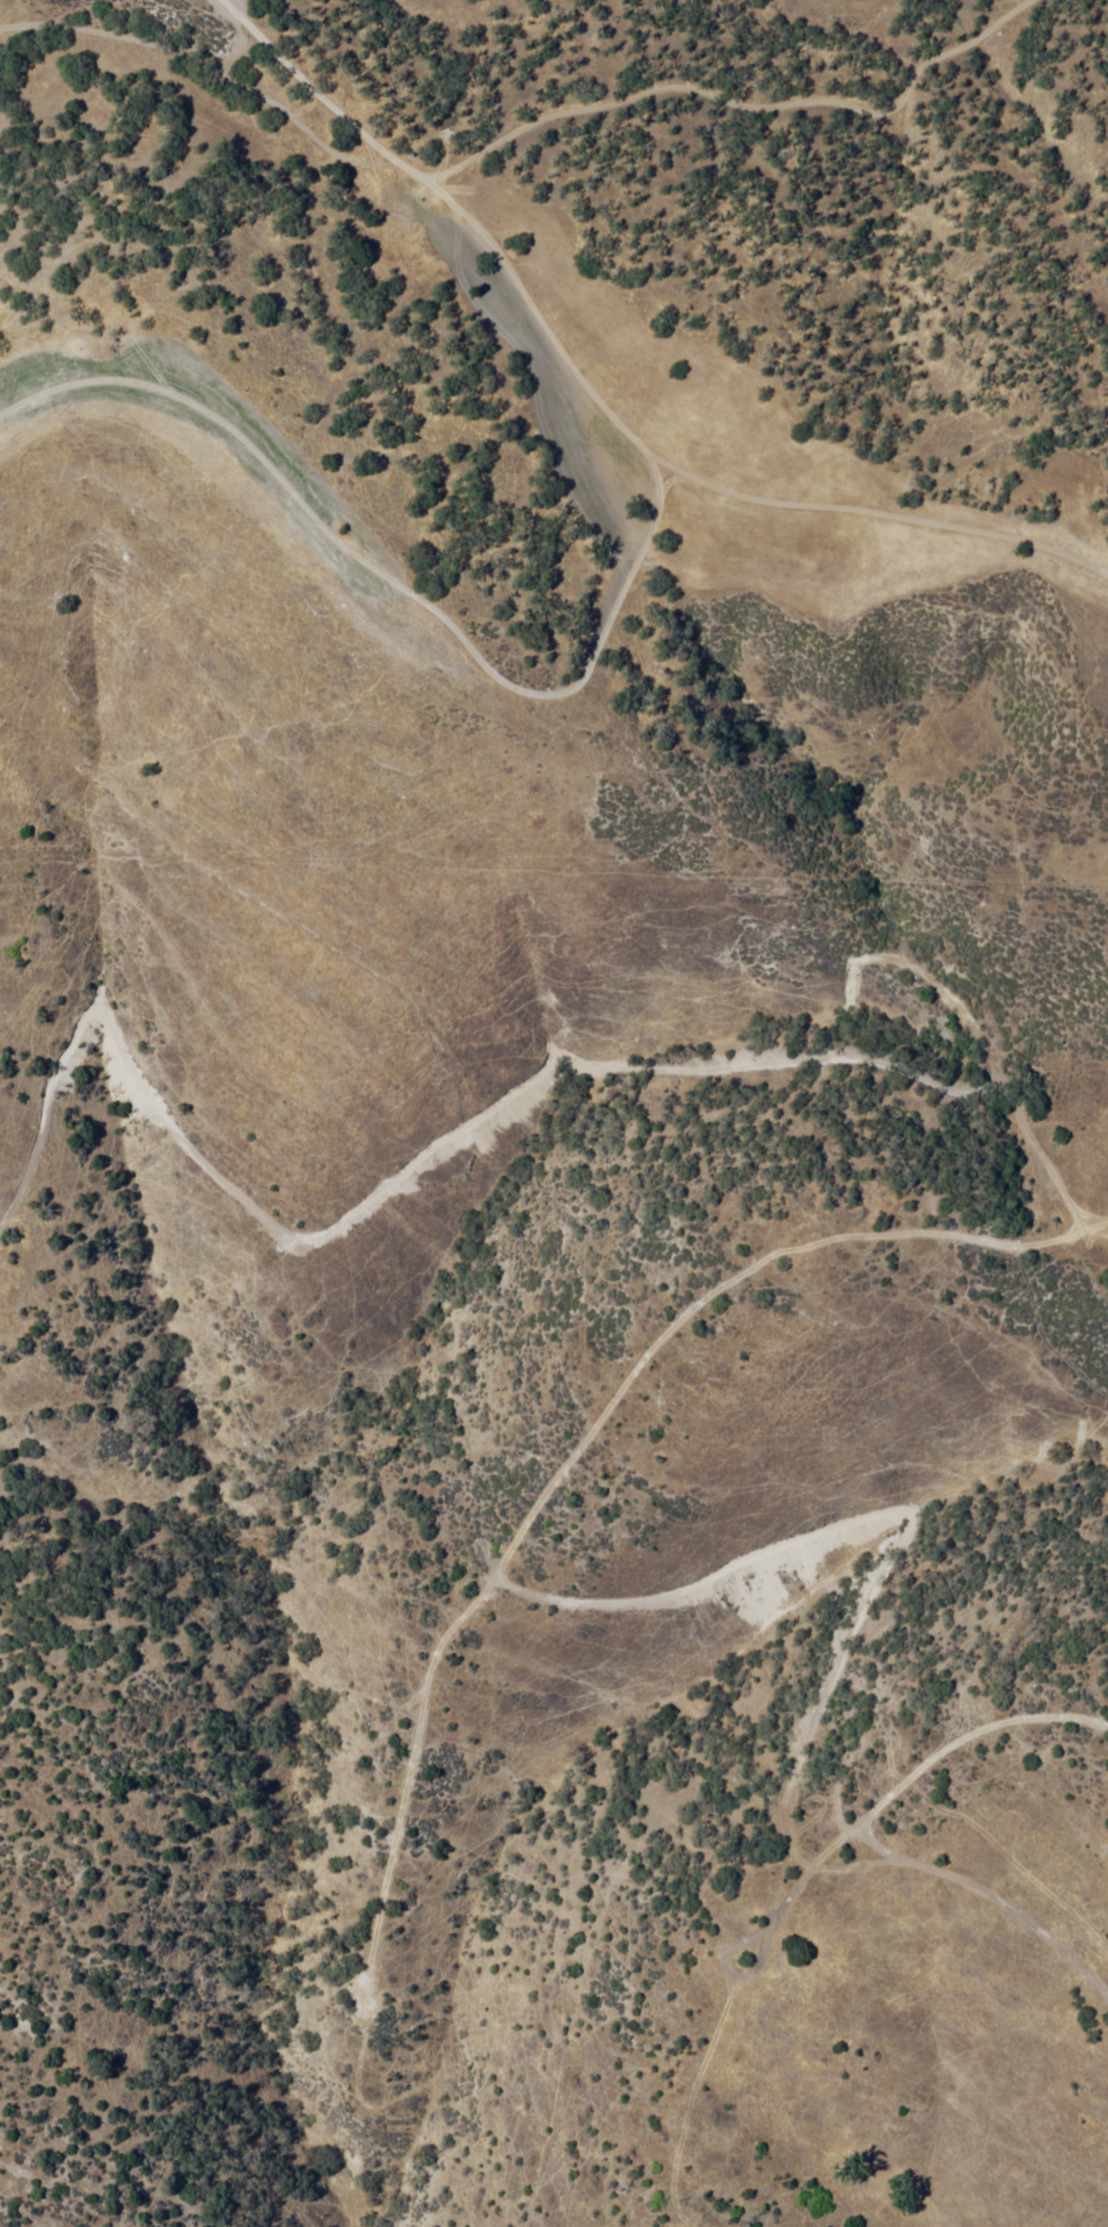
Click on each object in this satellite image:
road: (731, 102)
road: (601, 399)
road: (385, 596)

